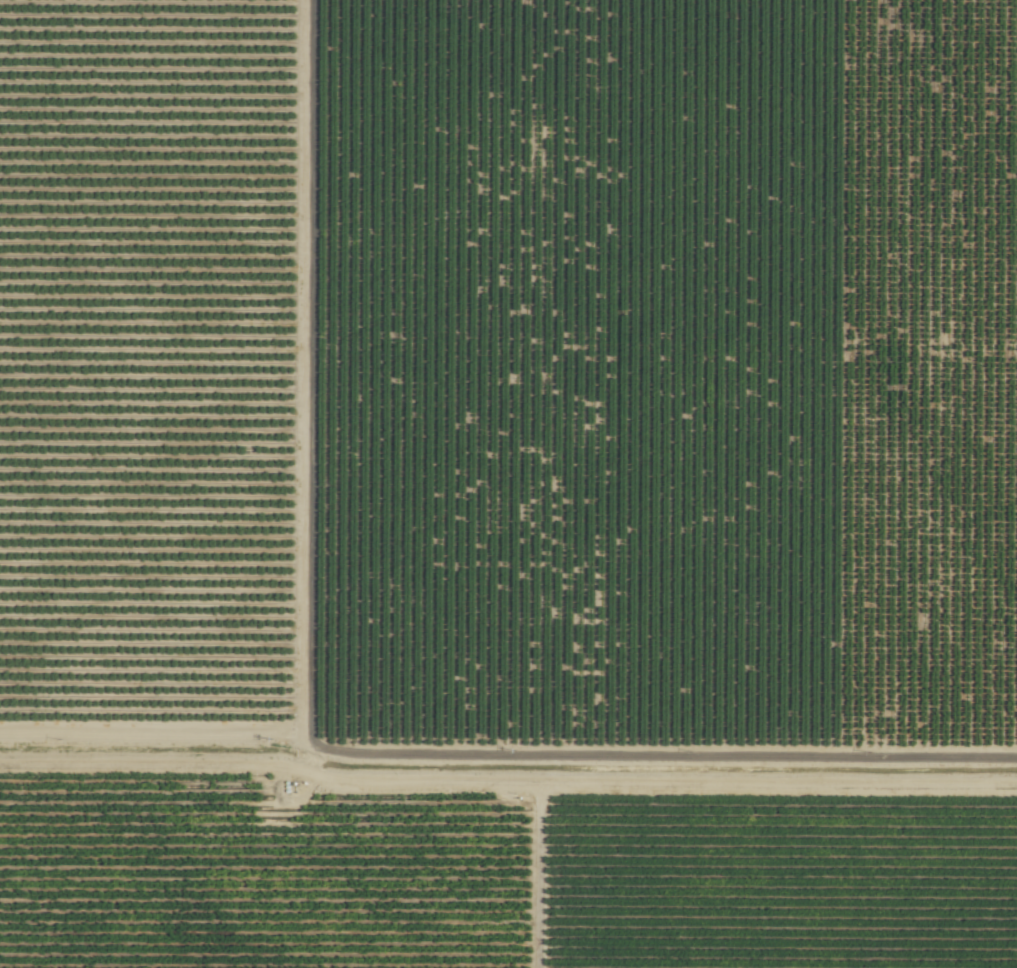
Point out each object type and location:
crop: (508, 484)
road: (668, 802)

